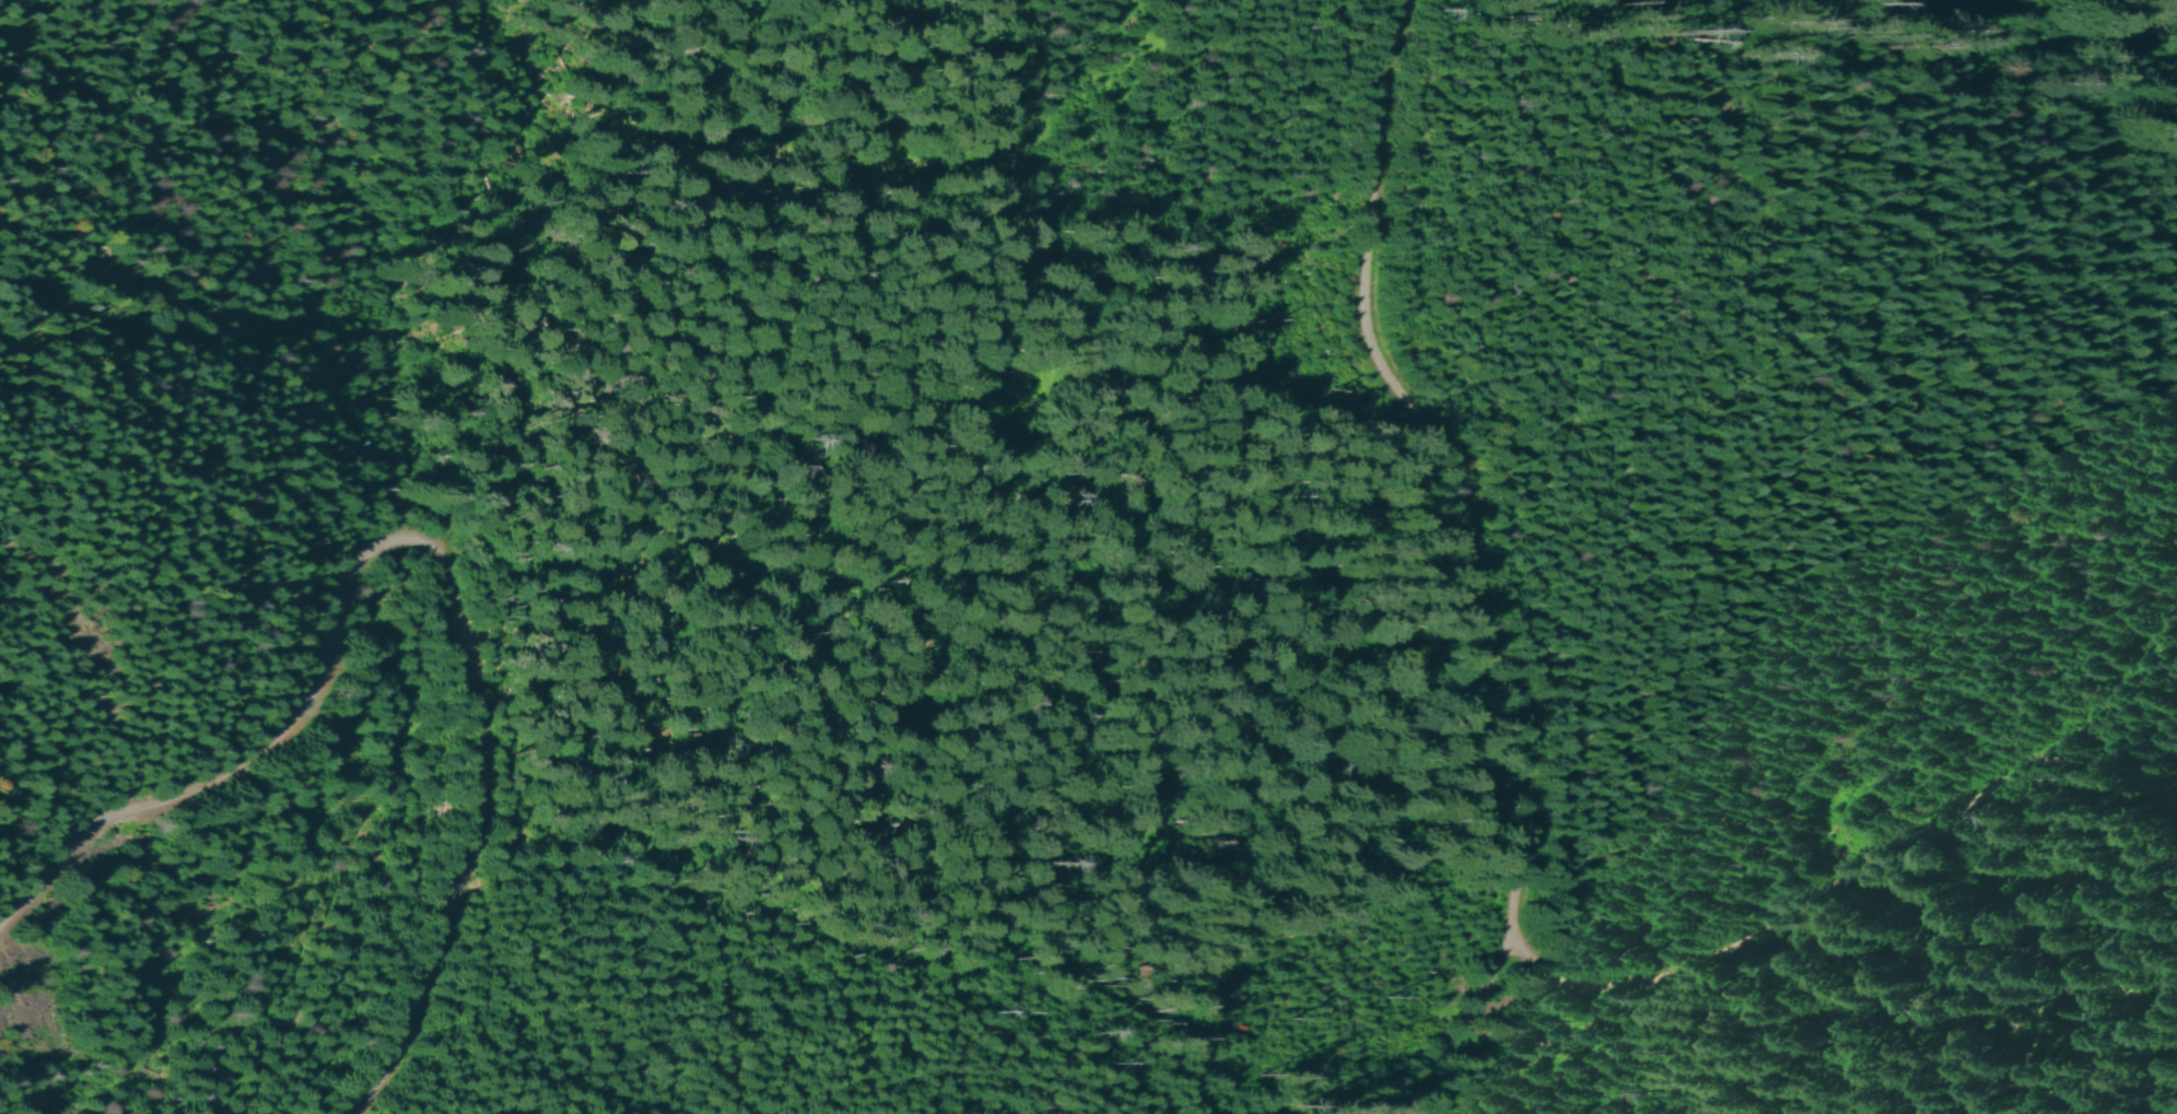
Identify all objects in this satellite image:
road: (2147, 238)
road: (418, 547)
road: (1502, 857)
road: (1484, 973)
road: (1452, 1020)

